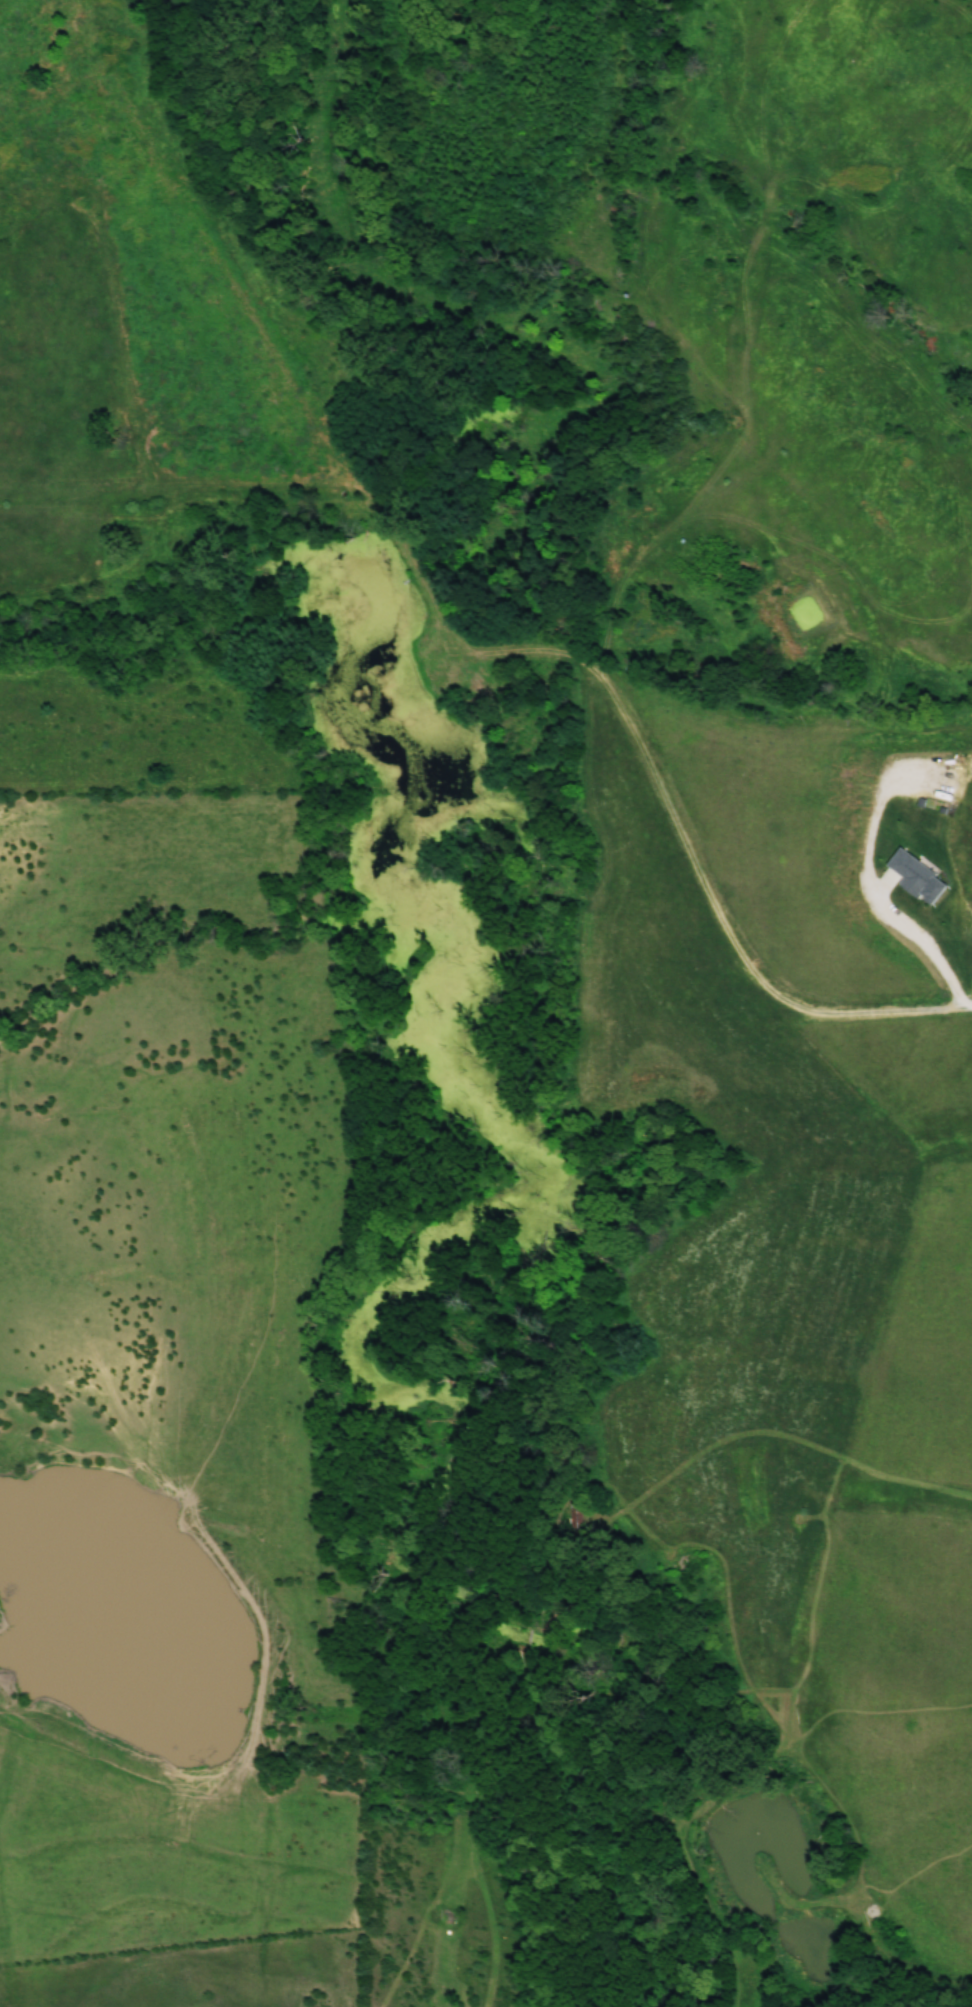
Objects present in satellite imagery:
road: (922, 939)

